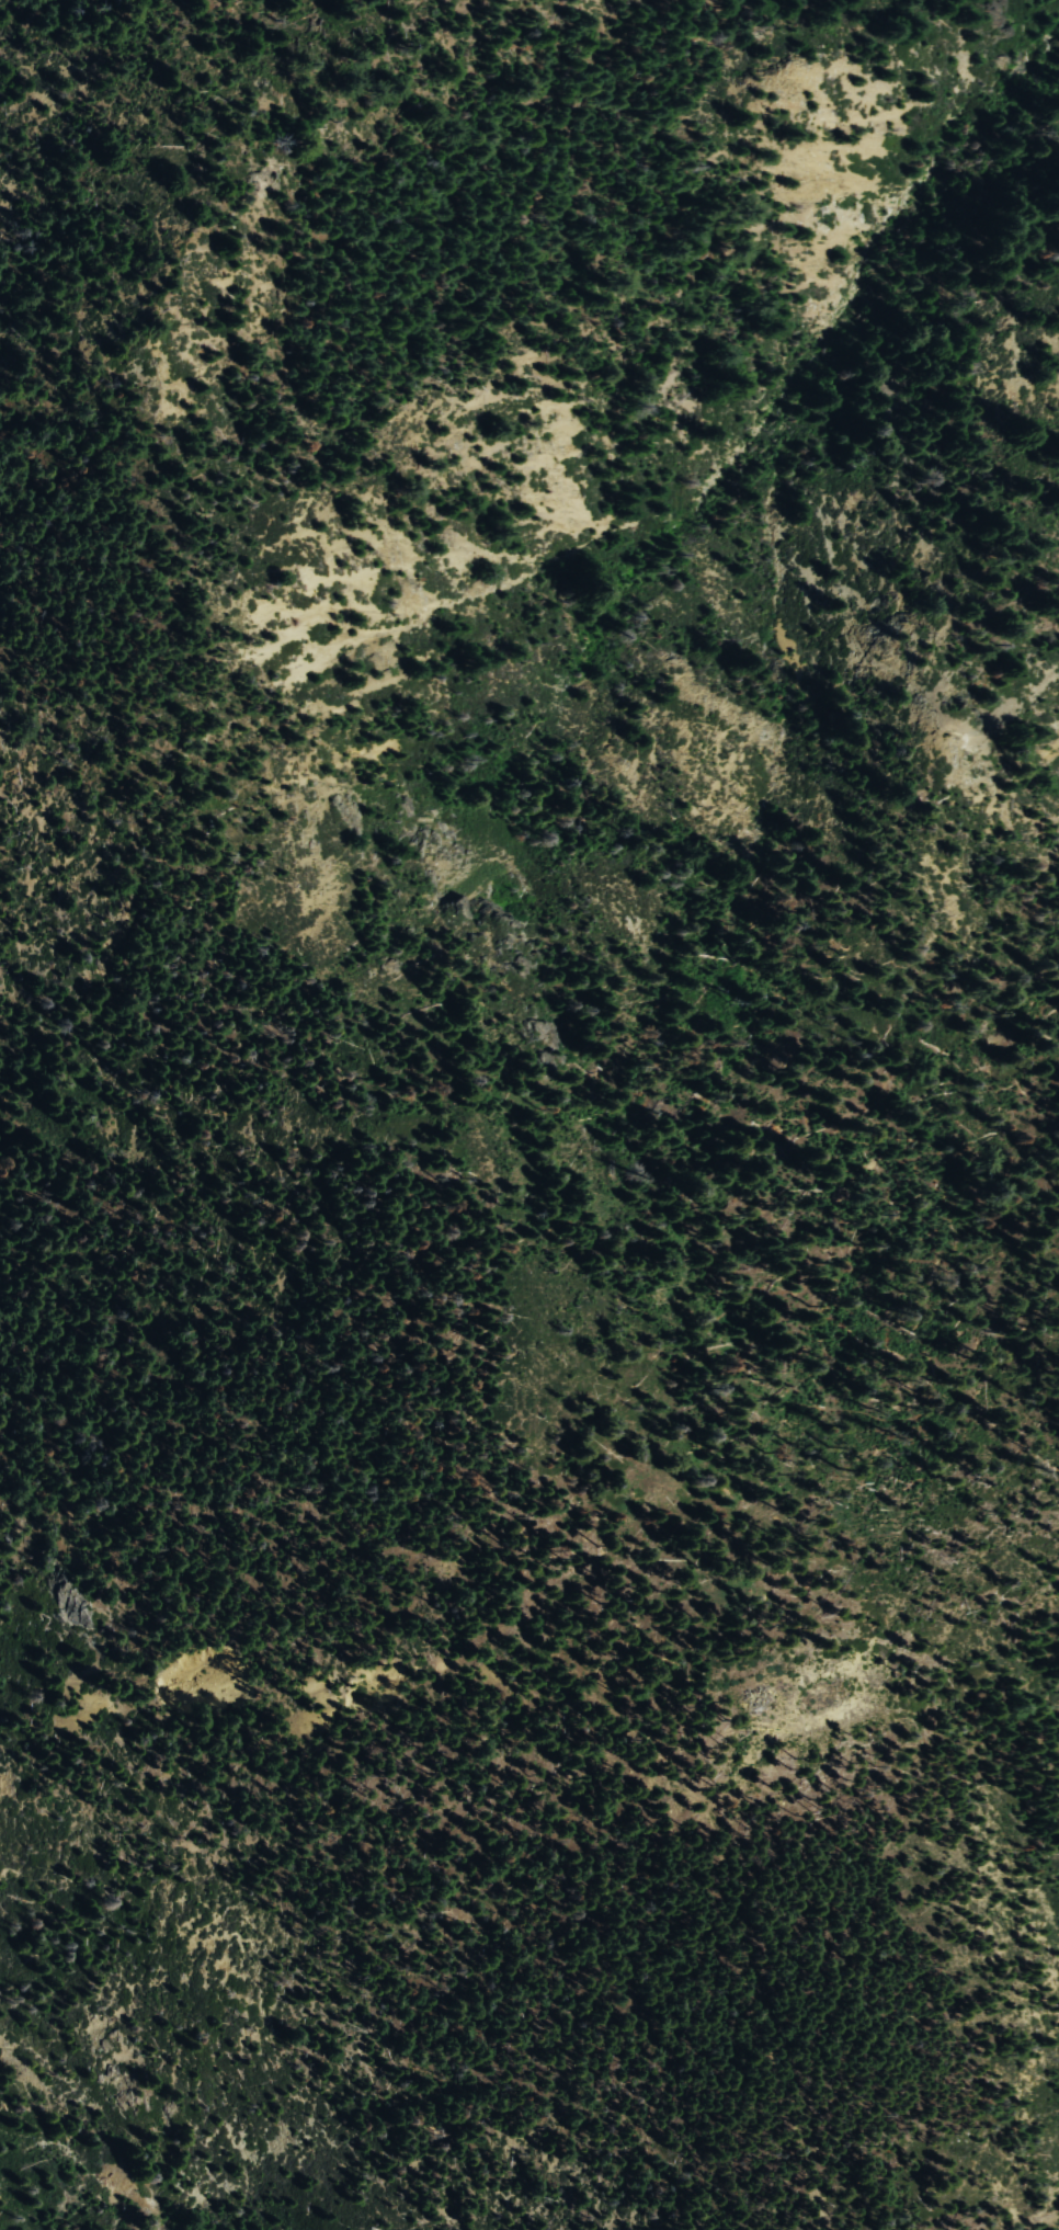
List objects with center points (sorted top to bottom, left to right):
road: (725, 1912)

